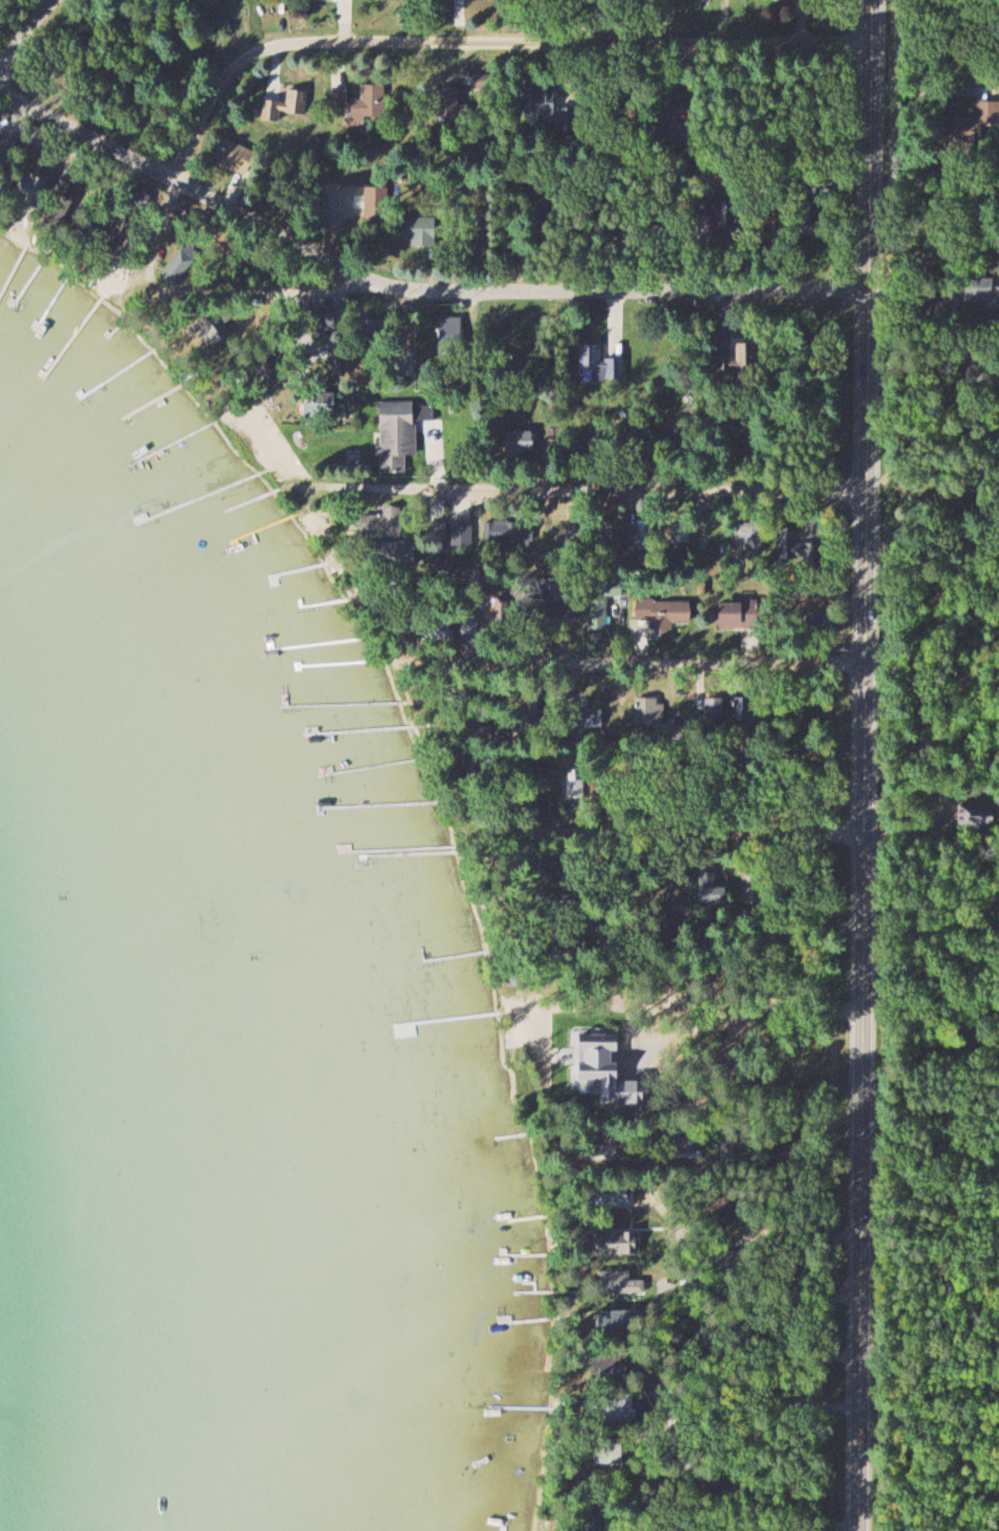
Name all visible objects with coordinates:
building: (209, 3)
road: (26, 33)
road: (486, 39)
building: (340, 98)
building: (448, 103)
building: (541, 103)
building: (289, 104)
building: (372, 104)
building: (971, 124)
building: (234, 153)
building: (5, 182)
road: (192, 183)
building: (34, 188)
building: (808, 197)
building: (725, 212)
building: (421, 230)
building: (180, 267)
road: (493, 285)
building: (985, 292)
building: (325, 315)
building: (215, 328)
building: (452, 334)
building: (744, 355)
building: (594, 362)
building: (984, 370)
building: (321, 405)
building: (402, 432)
building: (521, 443)
road: (591, 488)
building: (384, 522)
building: (509, 530)
building: (463, 532)
building: (438, 533)
building: (646, 535)
building: (756, 542)
building: (807, 543)
building: (406, 553)
building: (603, 601)
building: (666, 611)
building: (735, 619)
building: (440, 628)
road: (637, 660)
building: (716, 707)
road: (866, 765)
building: (979, 817)
road: (676, 833)
building: (712, 886)
building: (610, 1147)
building: (687, 1149)
building: (615, 1242)
building: (619, 1282)
building: (696, 1284)
building: (619, 1324)
building: (612, 1367)
building: (605, 1409)
building: (614, 1451)
building: (592, 1528)

